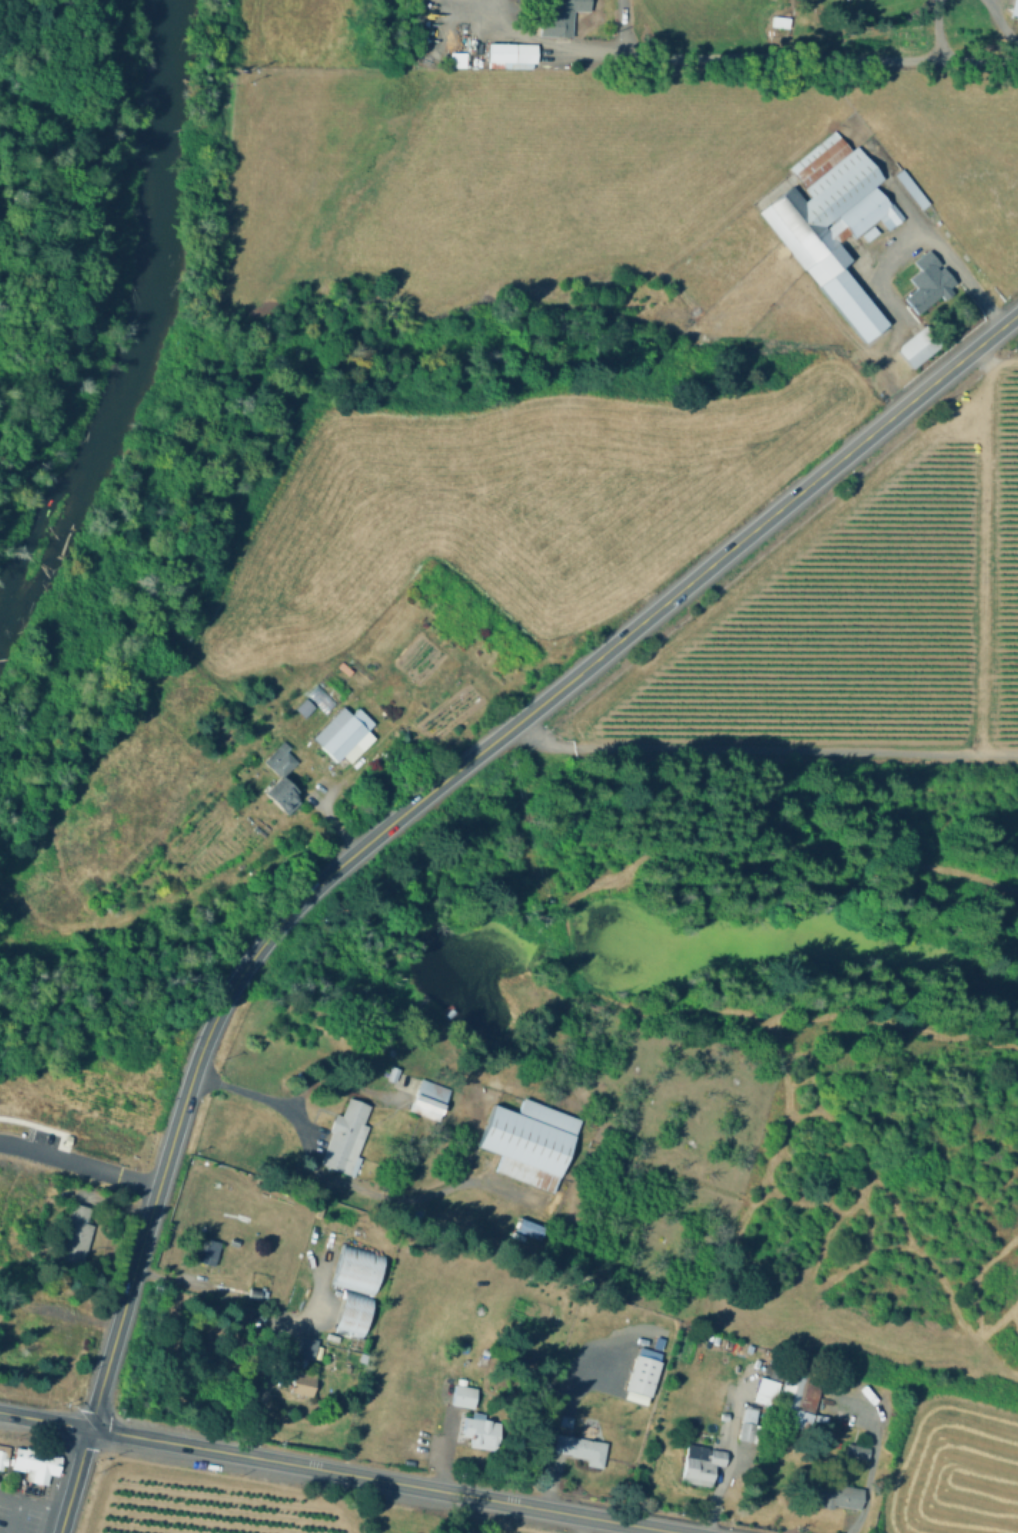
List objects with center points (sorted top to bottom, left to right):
building: (1015, 6)
building: (560, 17)
road: (1002, 20)
building: (780, 21)
road: (935, 27)
building: (513, 52)
road: (784, 56)
building: (454, 58)
building: (911, 189)
building: (834, 224)
road: (925, 234)
building: (928, 283)
river: (136, 315)
building: (917, 347)
road: (983, 358)
road: (980, 544)
building: (321, 704)
building: (302, 706)
building: (347, 735)
road: (762, 749)
building: (281, 775)
road: (434, 787)
building: (394, 1074)
road: (264, 1097)
building: (429, 1103)
road: (29, 1123)
road: (51, 1129)
road: (28, 1135)
building: (346, 1137)
building: (64, 1139)
building: (530, 1142)
parking lot: (55, 1153)
road: (80, 1164)
road: (404, 1186)
road: (109, 1204)
building: (525, 1227)
park: (16, 1236)
building: (76, 1237)
building: (208, 1253)
building: (357, 1272)
building: (253, 1297)
road: (62, 1312)
road: (257, 1312)
building: (350, 1312)
road: (865, 1337)
building: (306, 1351)
building: (643, 1376)
building: (303, 1383)
road: (264, 1387)
building: (763, 1390)
building: (793, 1396)
building: (463, 1397)
road: (45, 1421)
building: (567, 1421)
building: (749, 1424)
building: (480, 1436)
building: (580, 1448)
road: (734, 1451)
building: (859, 1452)
road: (874, 1453)
building: (1, 1455)
building: (5, 1461)
building: (53, 1465)
building: (30, 1466)
building: (703, 1467)
crop: (954, 1469)
road: (74, 1481)
road: (375, 1481)
building: (836, 1494)
road: (8, 1503)
crop: (202, 1507)
road: (40, 1510)
road: (455, 1514)
road: (14, 1519)
road: (581, 1526)

